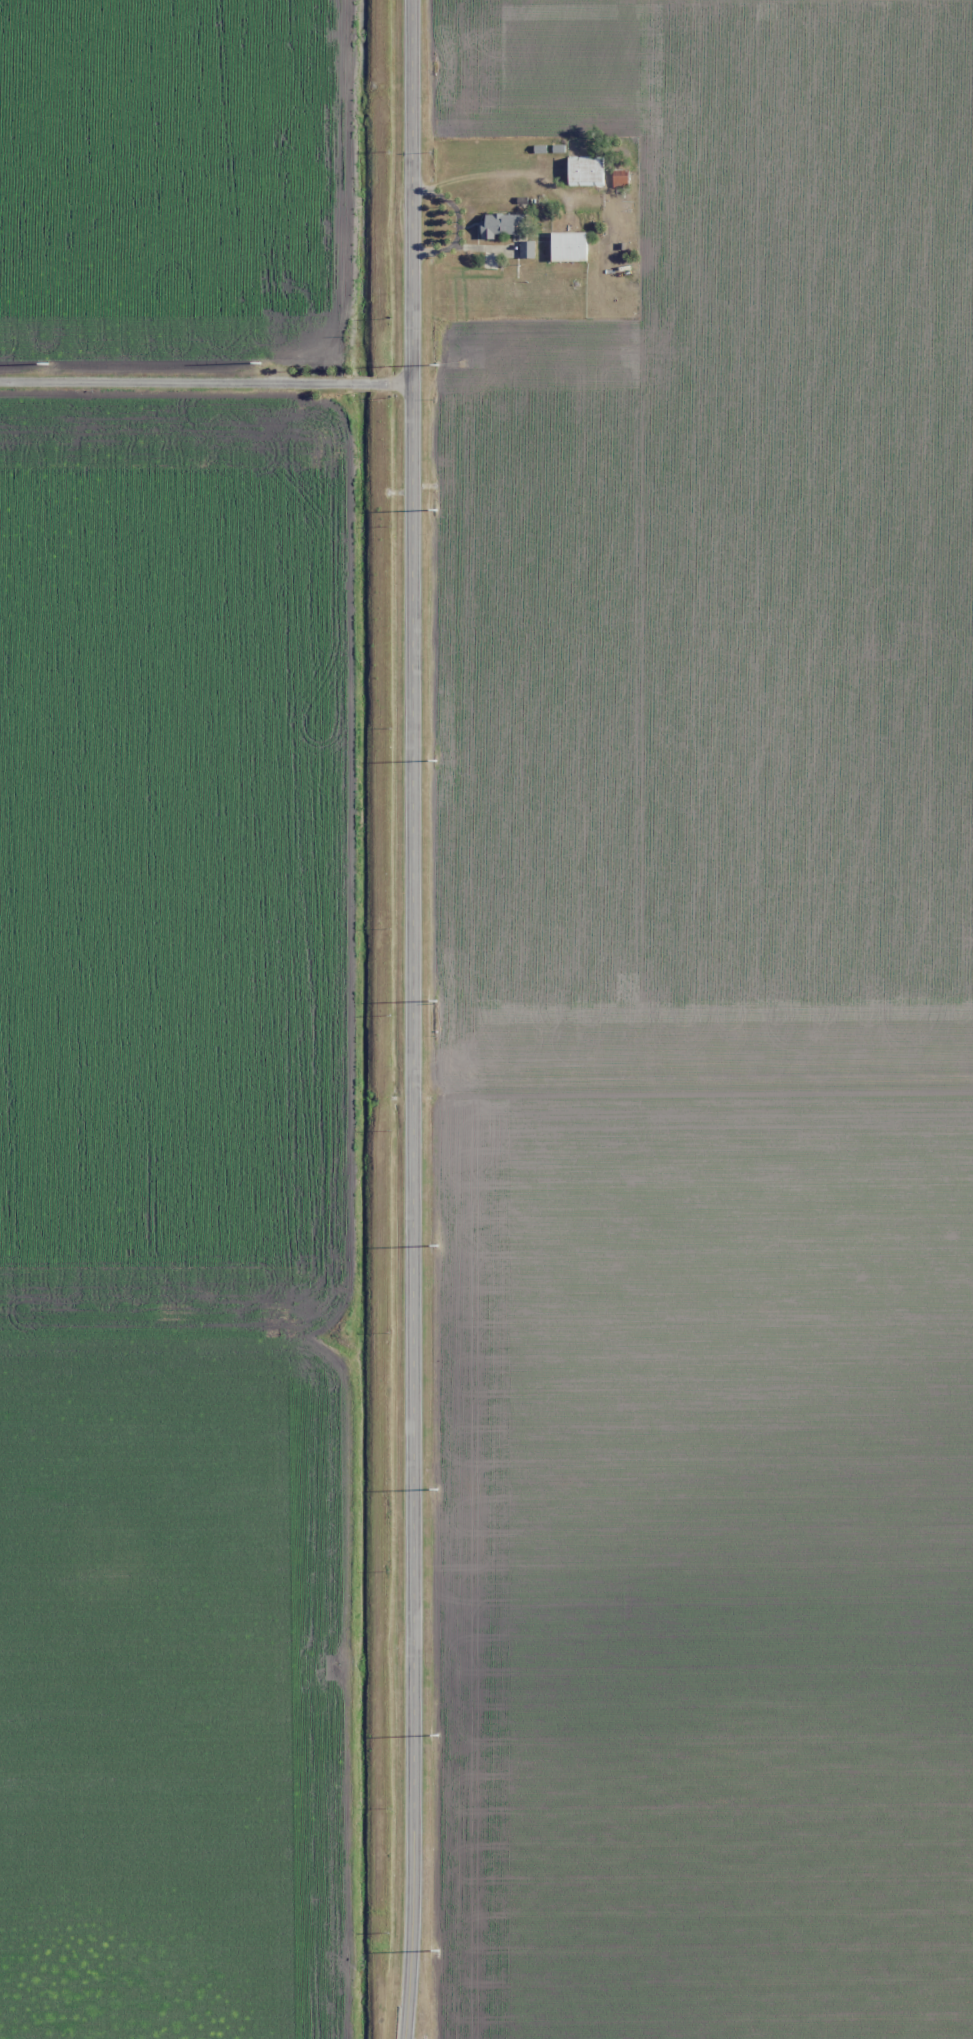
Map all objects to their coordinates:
building: (582, 172)
crop: (173, 182)
building: (495, 225)
building: (566, 246)
power tower: (440, 361)
power tower: (260, 362)
power tower: (46, 364)
road: (206, 382)
power tower: (435, 512)
power tower: (434, 757)
power tower: (435, 1004)
road: (413, 1019)
power tower: (439, 1247)
power tower: (436, 1495)
power tower: (435, 1739)
power tower: (437, 1954)

